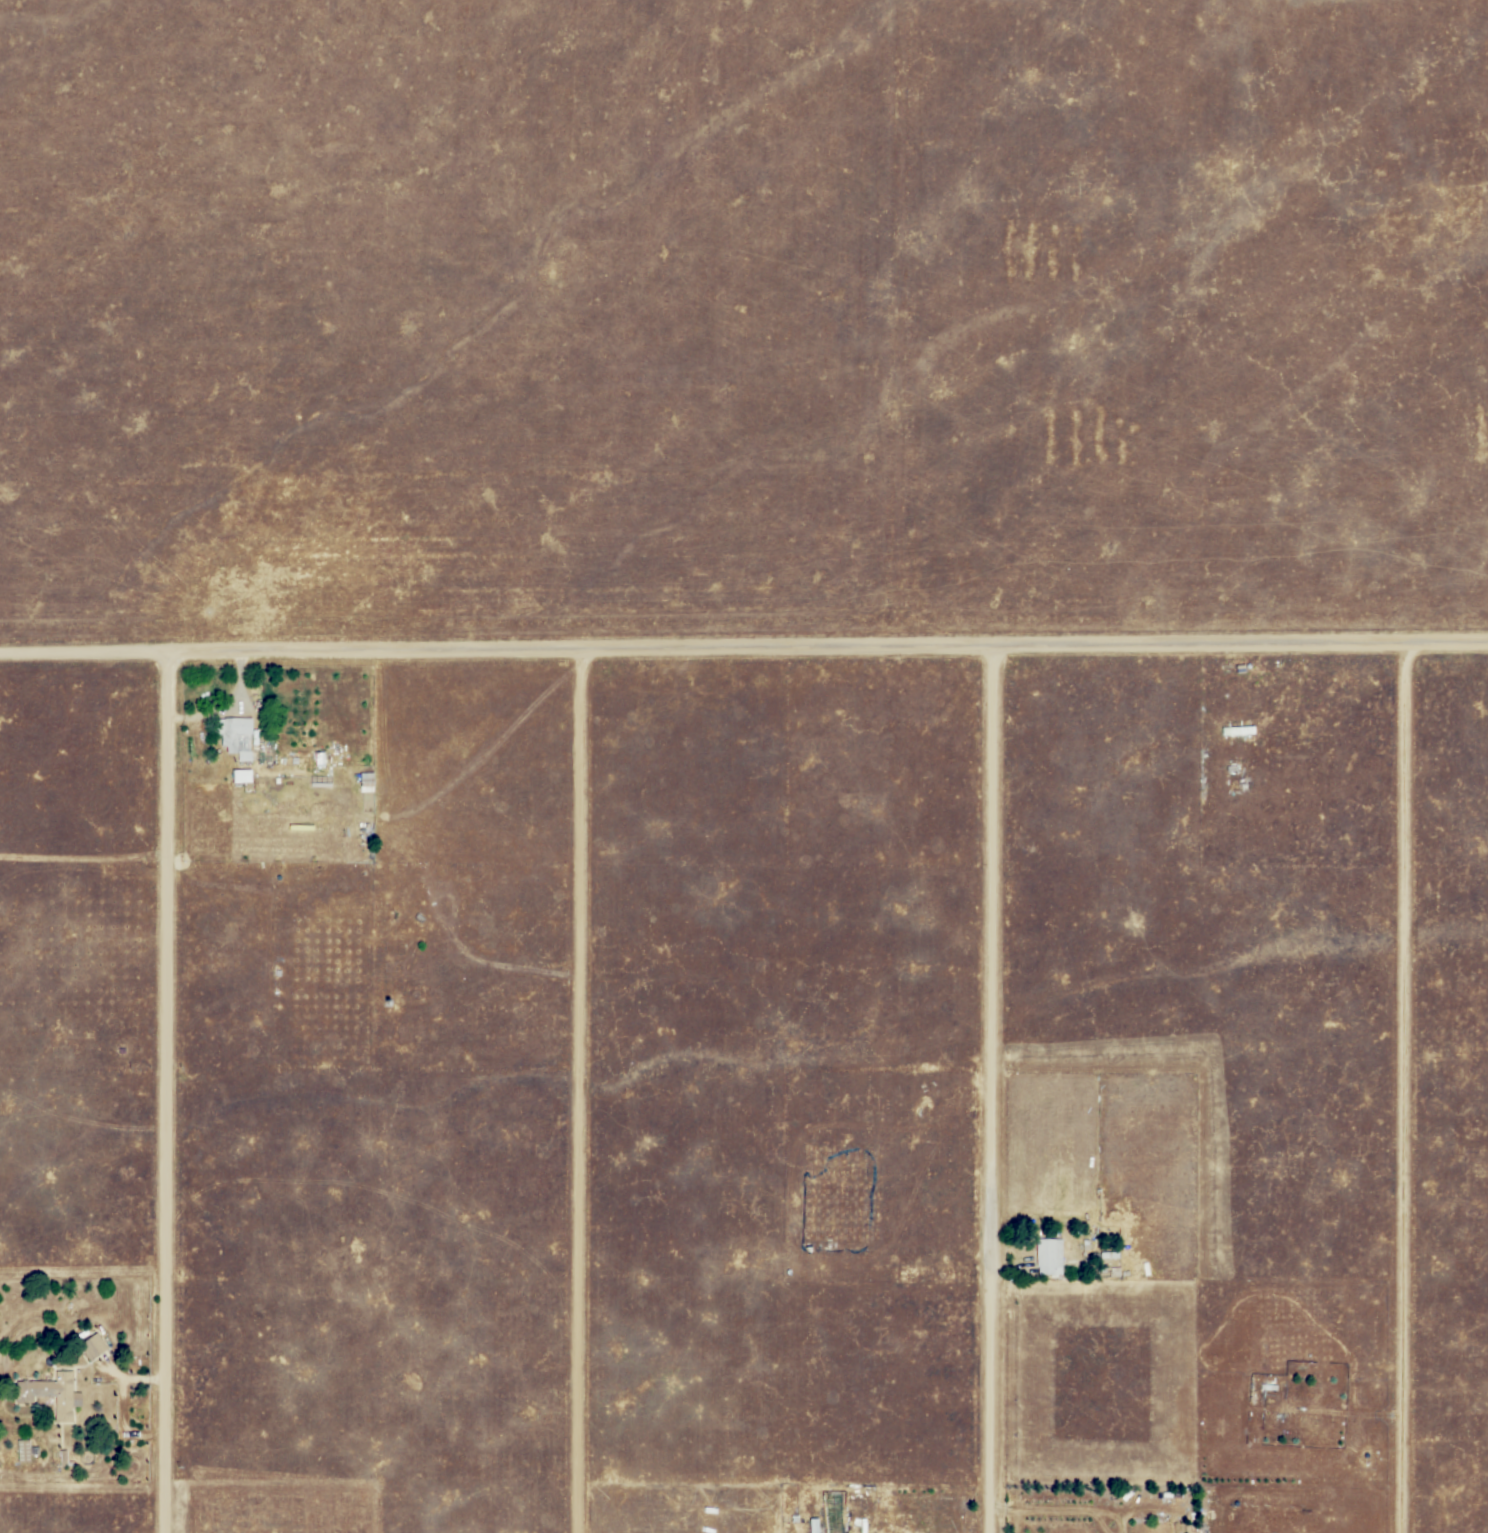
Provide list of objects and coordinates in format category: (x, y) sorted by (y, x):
road: (744, 648)
building: (1237, 730)
building: (234, 734)
building: (1204, 746)
building: (321, 761)
building: (1232, 770)
building: (243, 778)
building: (368, 784)
road: (1400, 1087)
road: (986, 1089)
road: (162, 1091)
road: (574, 1091)
building: (1050, 1258)
building: (89, 1346)
building: (54, 1396)
road: (1069, 1508)
road: (1123, 1520)
building: (816, 1527)

